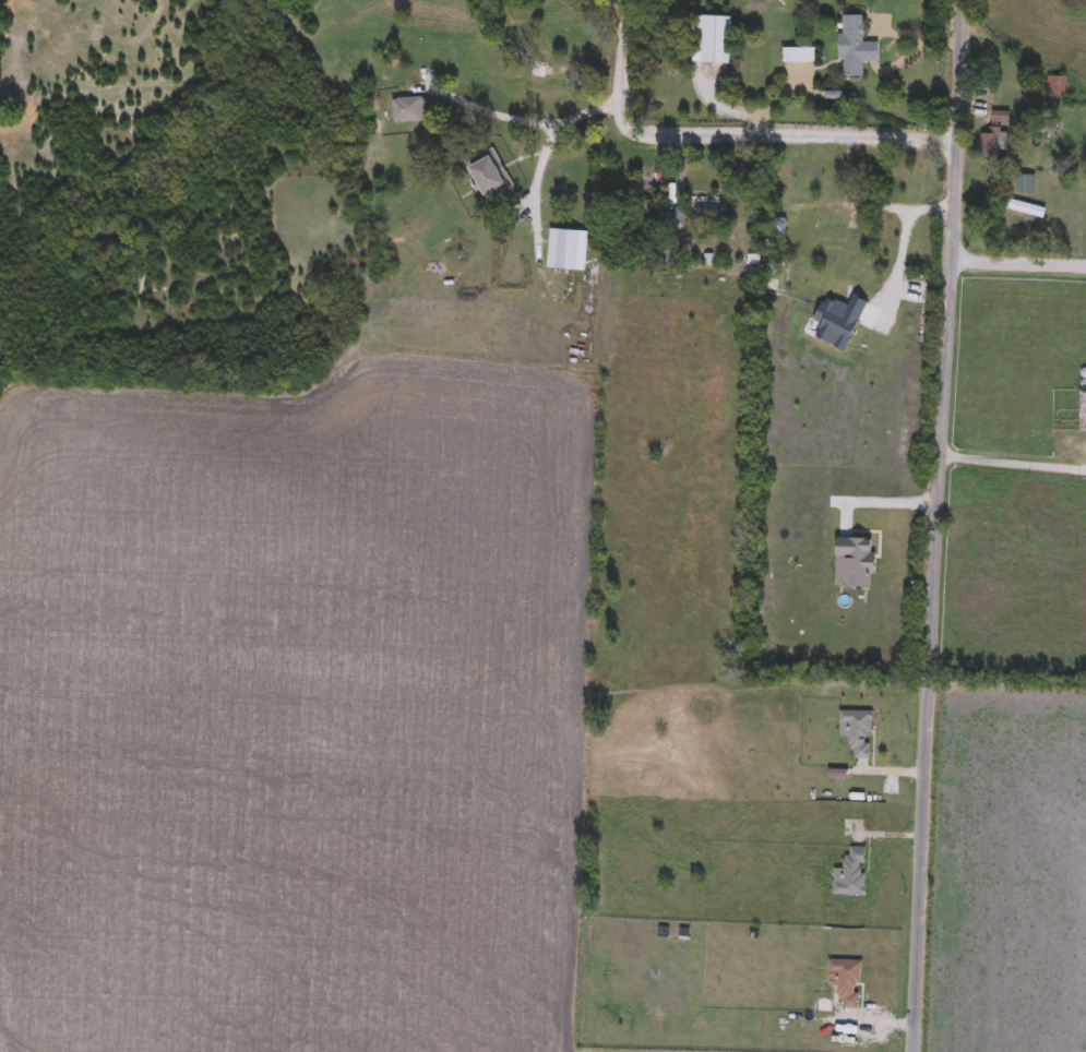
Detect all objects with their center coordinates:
building: (711, 38)
building: (855, 47)
building: (798, 56)
building: (1055, 86)
building: (445, 99)
building: (564, 111)
road: (526, 123)
building: (992, 138)
road: (728, 140)
building: (815, 179)
road: (533, 194)
road: (868, 208)
building: (707, 210)
building: (673, 217)
road: (899, 263)
road: (1017, 263)
building: (1083, 402)
road: (1014, 464)
road: (888, 507)
road: (938, 525)
building: (857, 732)
building: (850, 874)
building: (846, 981)

